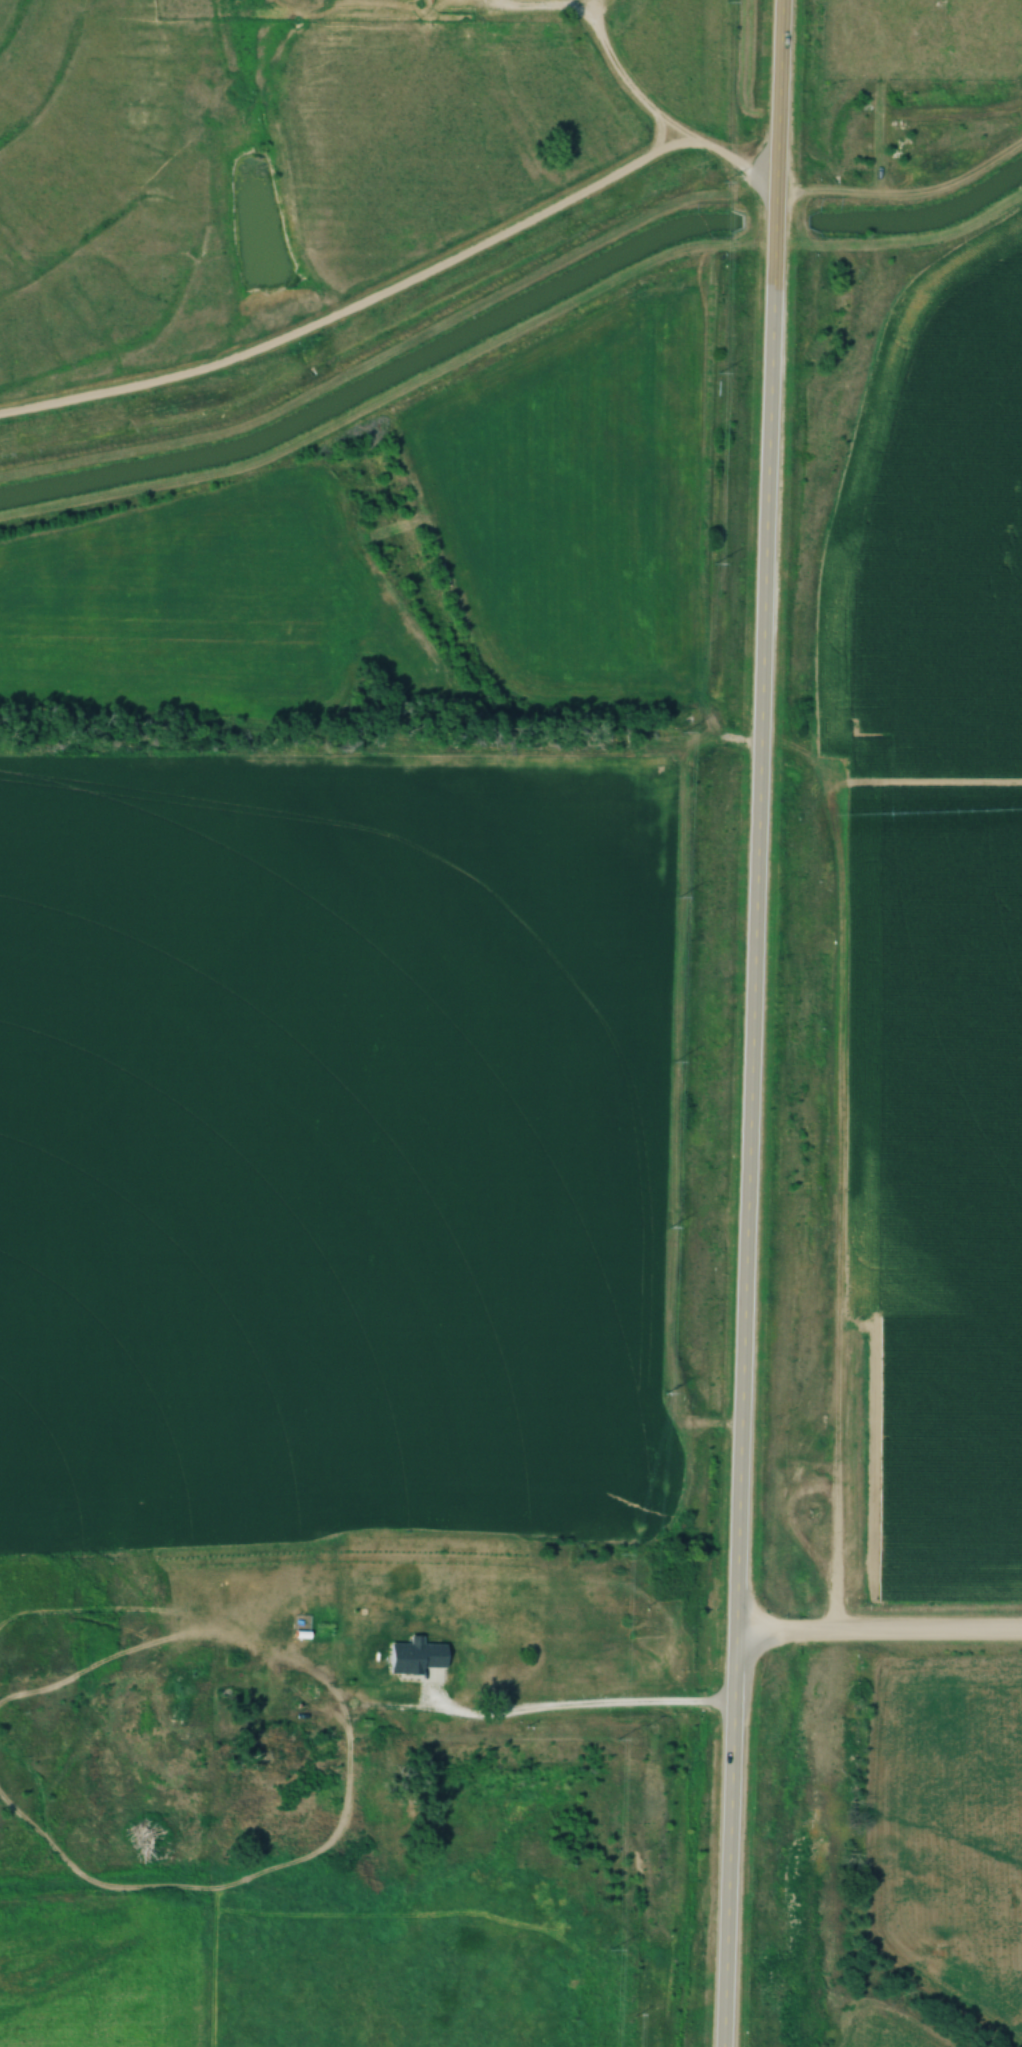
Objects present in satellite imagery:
road: (750, 1023)
road: (877, 1631)
building: (476, 1675)
building: (195, 1689)
building: (247, 1702)
road: (583, 1706)
building: (276, 1745)

